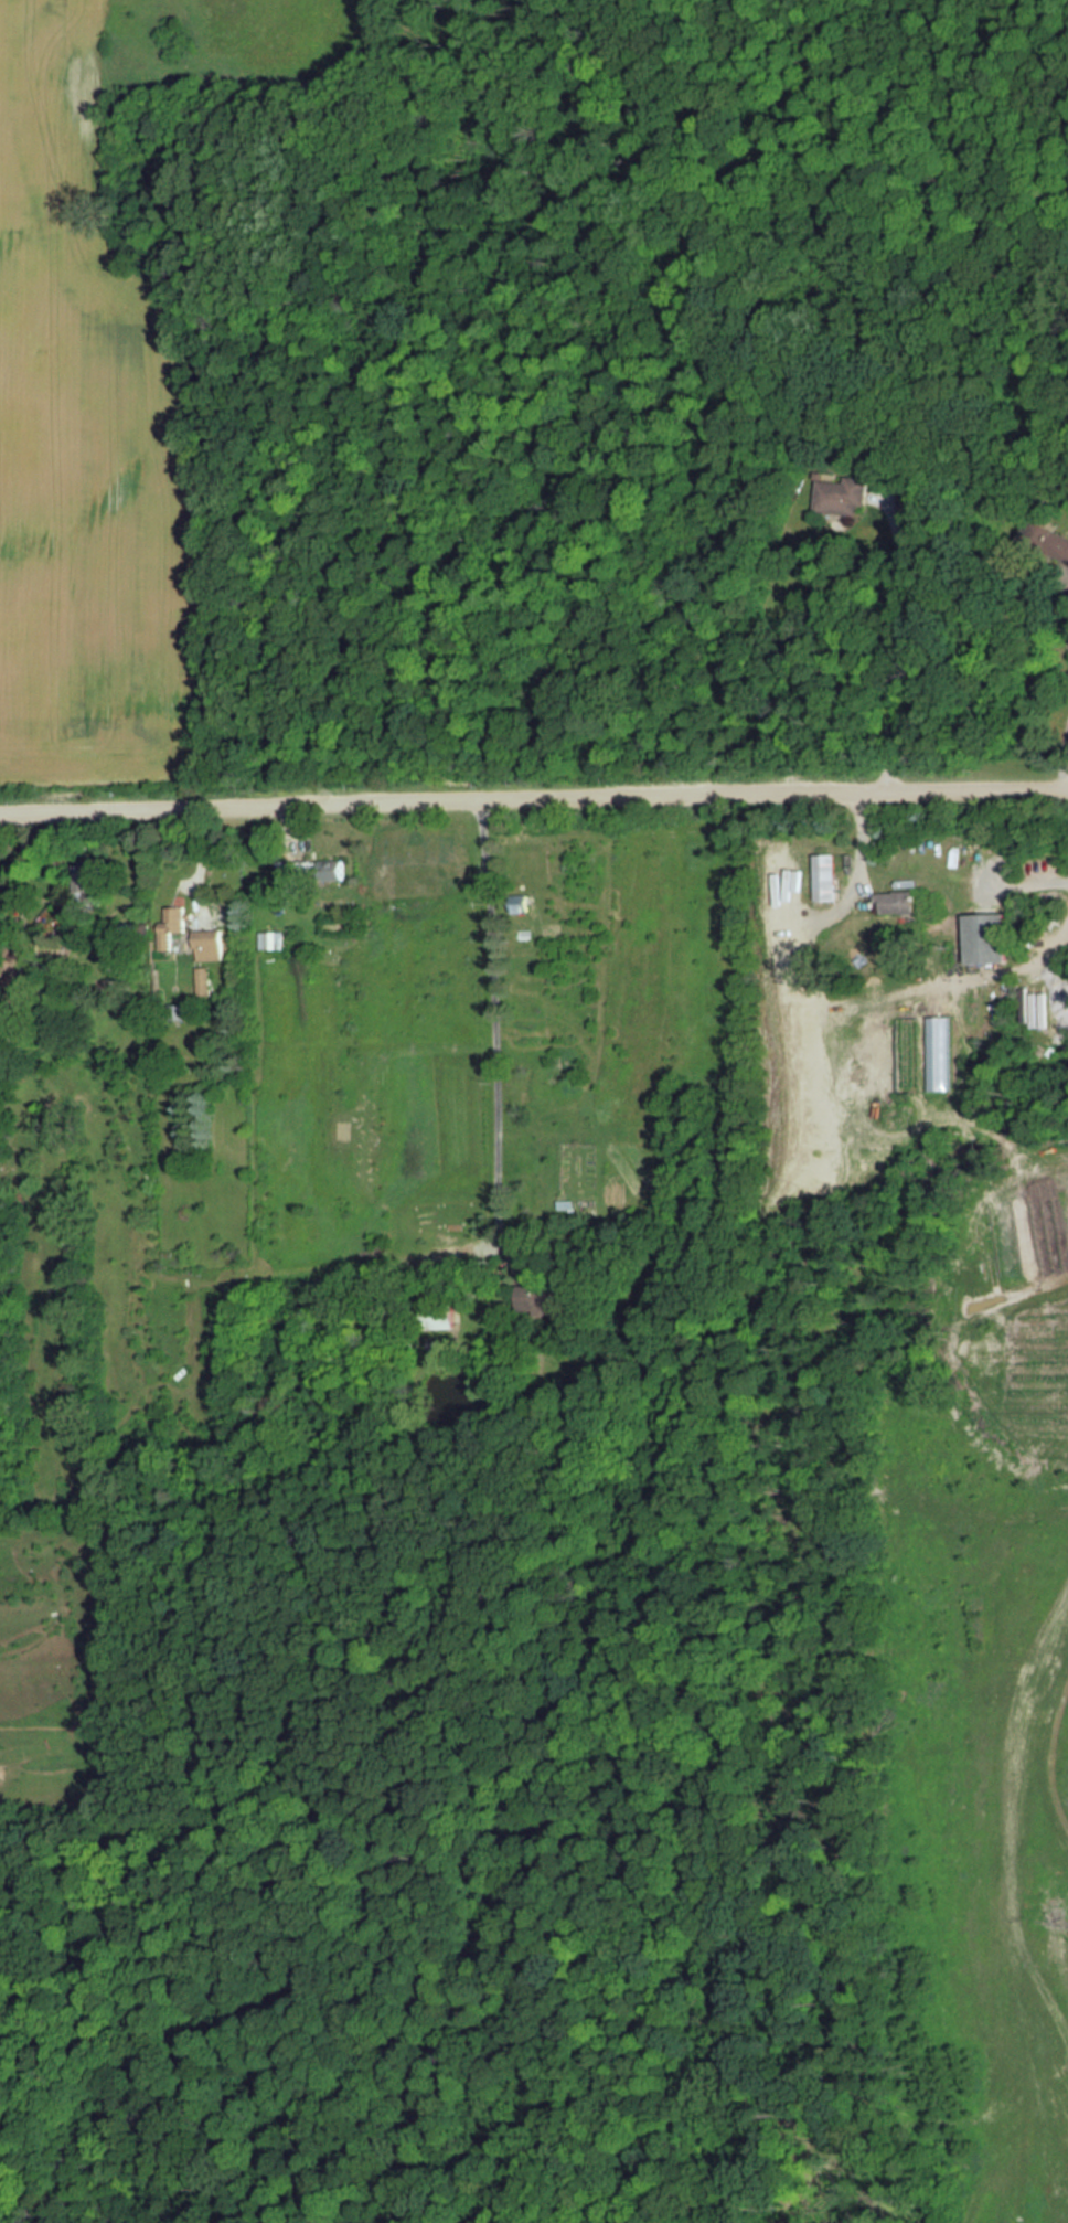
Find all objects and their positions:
road: (1064, 605)
road: (900, 641)
road: (1065, 755)
road: (533, 796)
road: (858, 843)
building: (311, 870)
building: (824, 878)
building: (92, 882)
road: (1021, 884)
building: (896, 902)
building: (172, 926)
building: (987, 937)
building: (209, 946)
road: (1033, 957)
road: (833, 1010)
road: (494, 1019)
road: (490, 1246)
road: (517, 1259)
building: (537, 1297)

